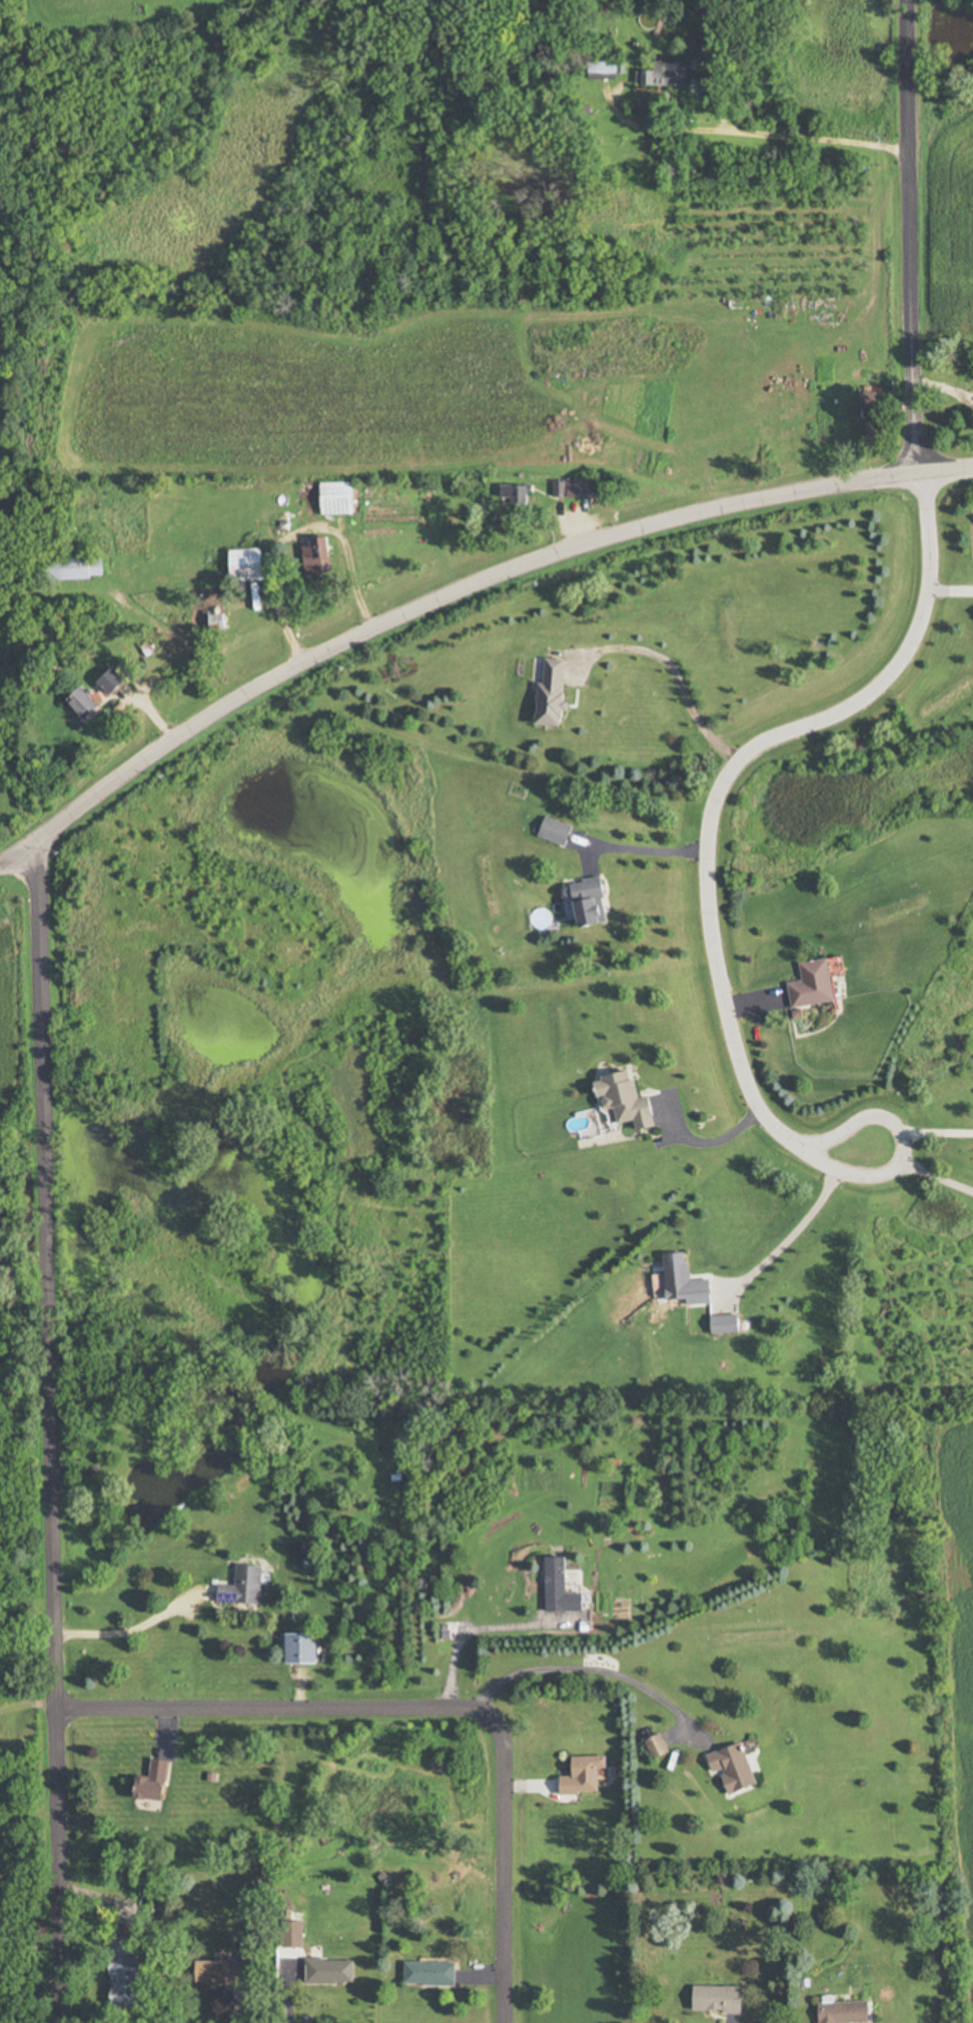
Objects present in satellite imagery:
building: (608, 67)
building: (669, 74)
road: (757, 134)
building: (575, 488)
building: (521, 494)
building: (340, 498)
road: (293, 534)
building: (321, 556)
building: (247, 564)
building: (77, 568)
road: (455, 586)
road: (890, 675)
road: (673, 677)
building: (117, 681)
building: (558, 694)
building: (89, 704)
road: (644, 852)
building: (593, 902)
building: (821, 983)
building: (628, 1099)
road: (879, 1127)
road: (940, 1135)
road: (712, 1142)
road: (938, 1176)
road: (789, 1235)
building: (688, 1280)
building: (728, 1322)
road: (48, 1432)
building: (244, 1585)
building: (562, 1587)
road: (473, 1630)
road: (128, 1631)
building: (301, 1647)
road: (586, 1671)
road: (424, 1708)
building: (661, 1746)
building: (738, 1767)
building: (584, 1775)
building: (158, 1781)
building: (331, 1969)
building: (219, 1971)
building: (431, 1972)
building: (128, 1975)
building: (722, 1997)
road: (293, 1999)
building: (847, 2012)

